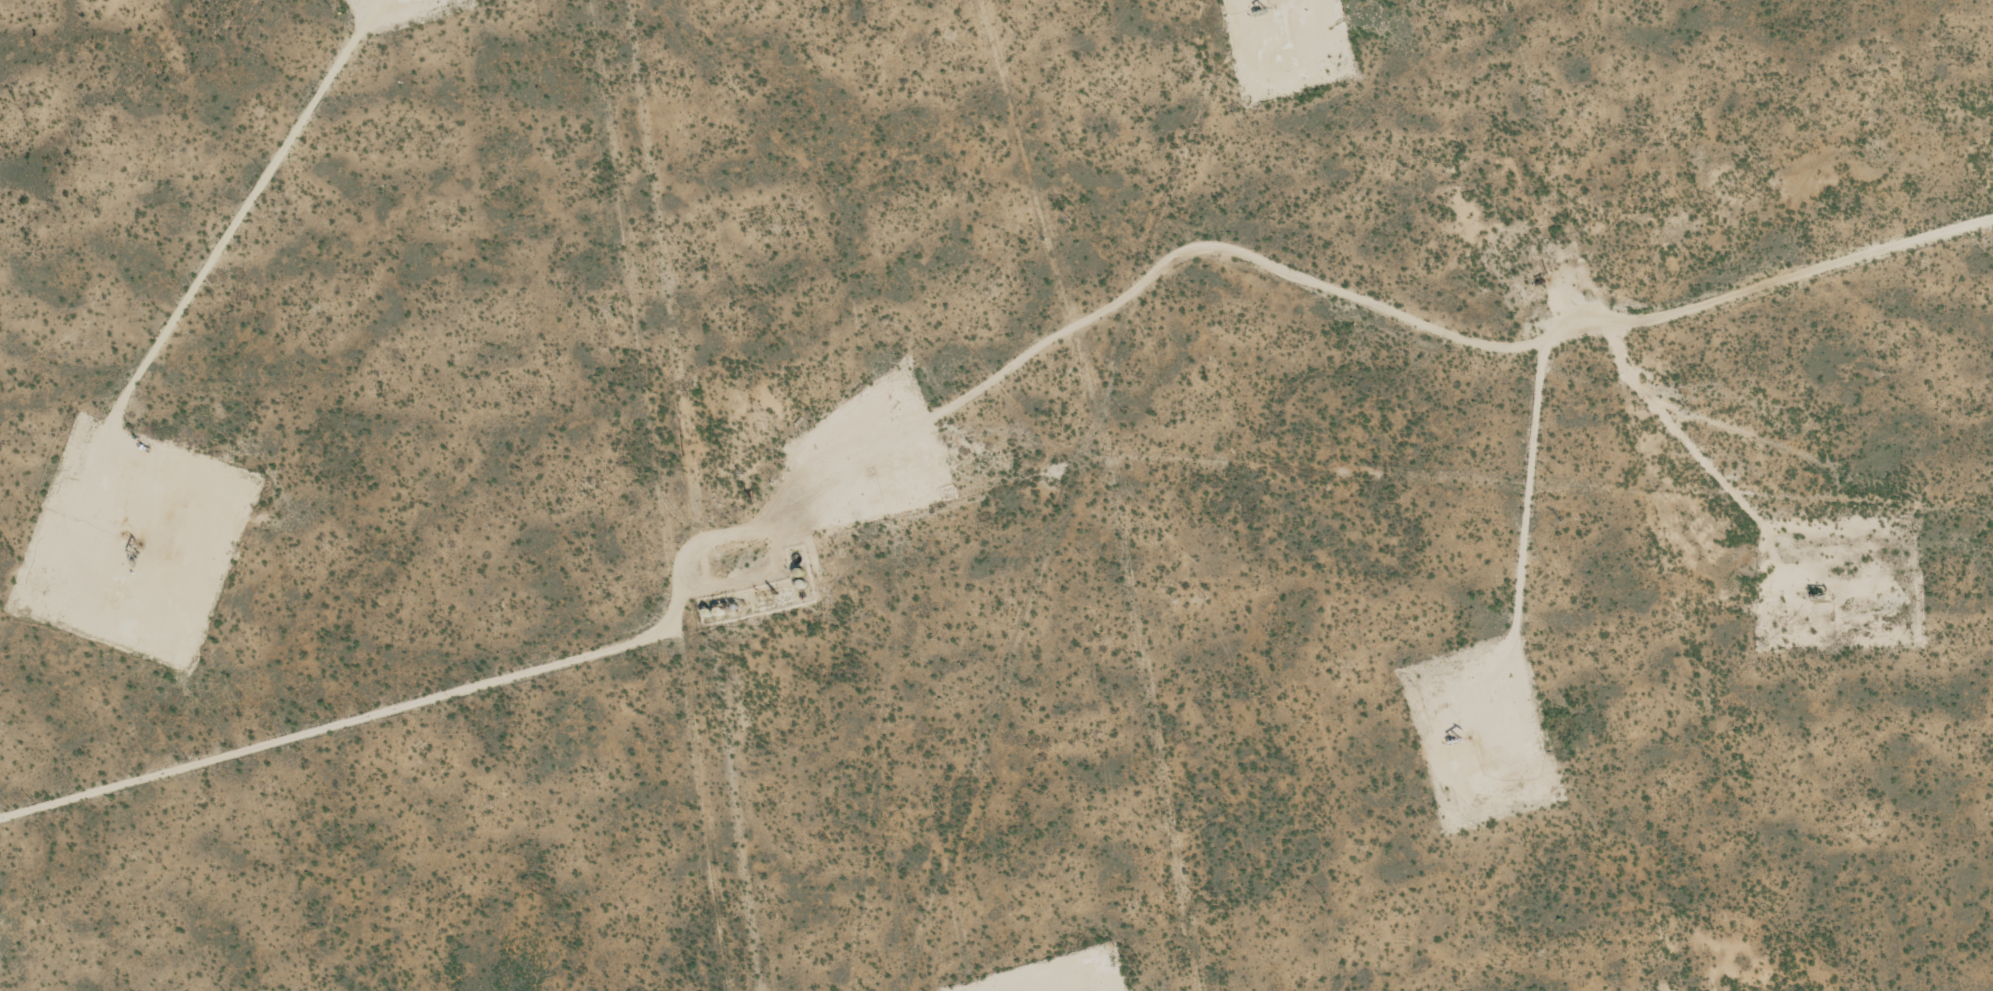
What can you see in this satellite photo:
road: (196, 289)
road: (966, 374)

